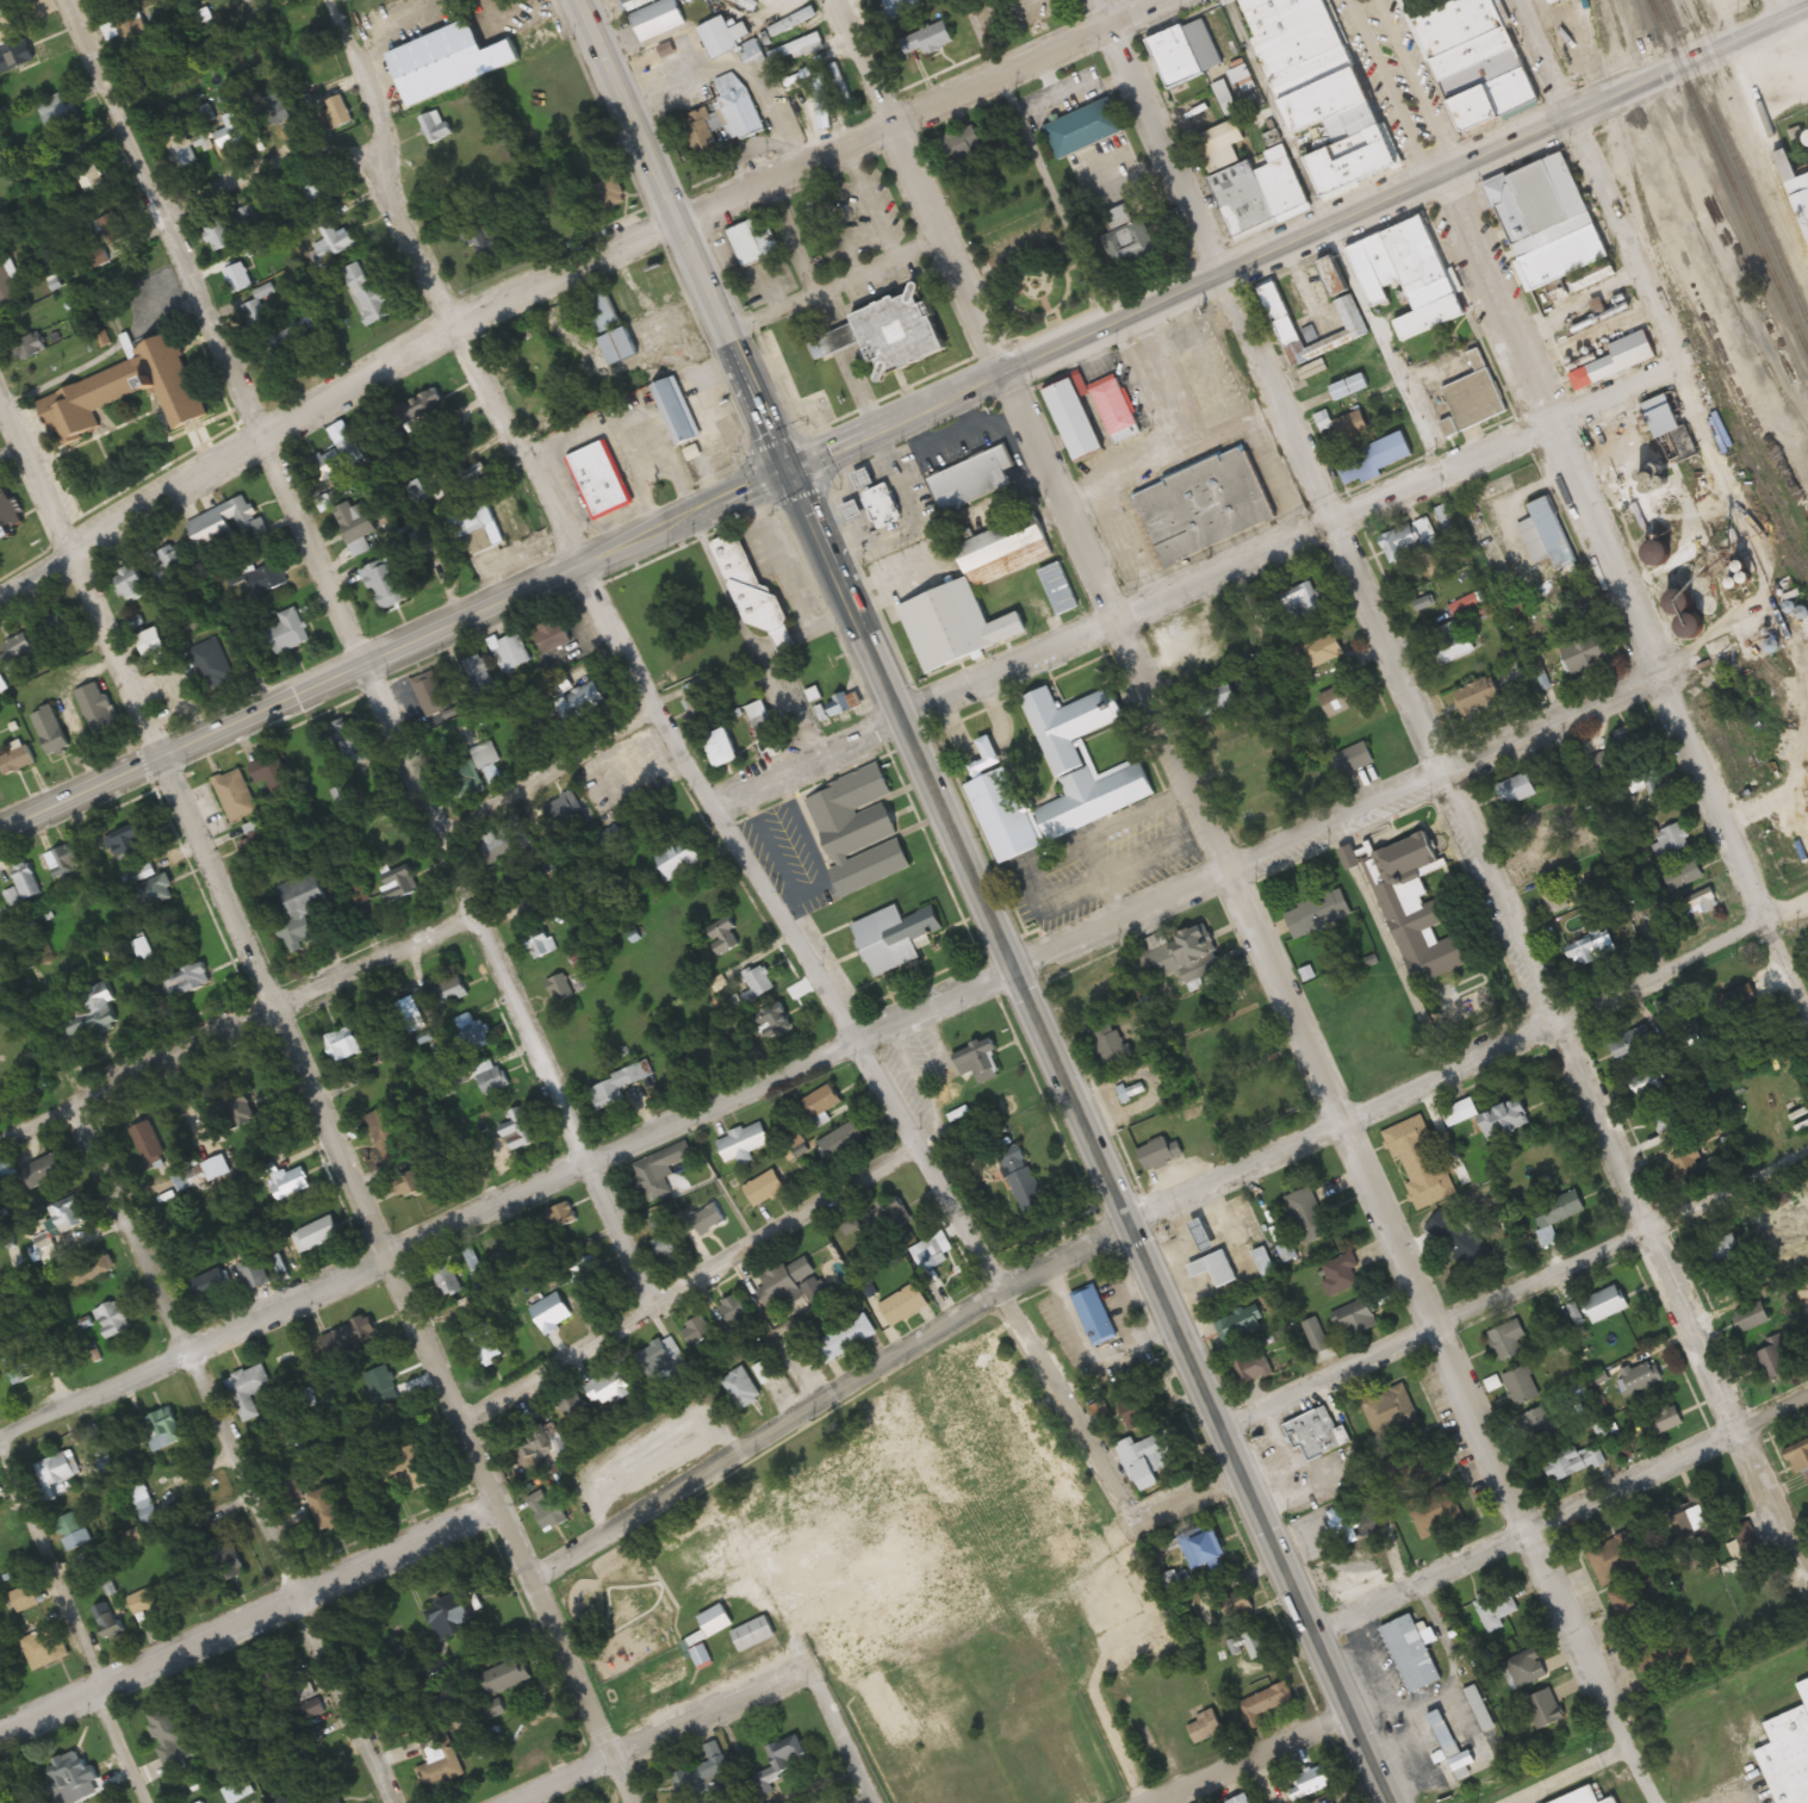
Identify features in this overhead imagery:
building: (903, 7)
road: (1777, 10)
building: (658, 19)
building: (122, 24)
road: (1748, 33)
building: (720, 38)
building: (930, 39)
road: (1795, 46)
building: (464, 57)
road: (1541, 57)
building: (1474, 60)
building: (1198, 66)
road: (1385, 88)
building: (1323, 91)
building: (737, 106)
building: (336, 112)
building: (56, 113)
building: (1087, 128)
building: (232, 131)
road: (1158, 133)
building: (704, 141)
building: (180, 150)
railway: (1734, 161)
road: (265, 162)
building: (1250, 174)
railway: (1728, 175)
road: (913, 185)
building: (1795, 185)
building: (315, 193)
building: (1549, 219)
building: (113, 229)
road: (686, 231)
building: (218, 235)
building: (479, 236)
building: (333, 237)
road: (1616, 237)
building: (1131, 238)
building: (753, 241)
road: (560, 269)
building: (238, 278)
building: (1340, 281)
building: (1433, 284)
road: (429, 288)
building: (7, 291)
building: (366, 296)
building: (255, 310)
building: (1281, 315)
road: (218, 328)
building: (895, 336)
building: (297, 337)
building: (29, 347)
building: (533, 349)
building: (800, 358)
building: (1617, 361)
building: (1350, 387)
building: (125, 392)
building: (1474, 399)
building: (1112, 404)
building: (675, 412)
building: (420, 415)
building: (1074, 418)
building: (1352, 425)
building: (1672, 430)
road: (843, 440)
building: (1375, 458)
building: (336, 459)
traffic signals: (790, 465)
building: (598, 479)
building: (971, 480)
building: (1206, 497)
building: (853, 510)
building: (7, 511)
building: (876, 512)
building: (229, 524)
building: (355, 526)
building: (477, 527)
building: (1545, 534)
building: (1408, 540)
building: (173, 561)
road: (82, 565)
road: (1191, 574)
building: (266, 579)
building: (132, 583)
building: (384, 584)
road: (1618, 598)
building: (1299, 602)
building: (962, 610)
building: (55, 626)
building: (287, 632)
building: (1450, 642)
building: (156, 646)
building: (15, 652)
building: (511, 652)
building: (1323, 654)
building: (211, 664)
building: (479, 674)
building: (429, 694)
building: (1478, 696)
building: (1214, 697)
building: (1342, 698)
building: (584, 701)
building: (97, 709)
building: (757, 710)
building: (50, 732)
building: (1231, 738)
building: (1626, 741)
building: (350, 742)
building: (722, 748)
road: (549, 751)
building: (986, 758)
building: (1349, 759)
building: (17, 760)
building: (1597, 763)
building: (464, 766)
building: (1641, 773)
building: (272, 776)
building: (1057, 779)
building: (1516, 789)
building: (235, 795)
building: (340, 797)
building: (564, 815)
building: (857, 829)
building: (128, 841)
building: (497, 844)
building: (1670, 844)
building: (69, 858)
building: (679, 858)
building: (138, 875)
building: (1683, 876)
building: (26, 879)
building: (400, 888)
building: (1557, 897)
building: (1698, 902)
building: (1415, 906)
building: (303, 909)
building: (1316, 913)
road: (1514, 926)
building: (727, 932)
building: (893, 937)
building: (540, 945)
building: (1590, 950)
building: (1186, 956)
building: (190, 981)
road: (509, 982)
building: (753, 983)
building: (560, 988)
building: (1096, 989)
building: (449, 991)
building: (93, 999)
road: (240, 1020)
building: (773, 1020)
building: (473, 1034)
road: (864, 1036)
building: (1635, 1043)
building: (343, 1044)
building: (1110, 1044)
road: (826, 1052)
building: (978, 1061)
building: (493, 1078)
building: (1648, 1082)
road: (1322, 1087)
building: (613, 1089)
building: (821, 1101)
building: (1460, 1112)
building: (1670, 1117)
building: (520, 1129)
road: (1088, 1134)
building: (387, 1136)
building: (794, 1137)
building: (843, 1140)
building: (744, 1143)
building: (149, 1144)
building: (1158, 1152)
building: (1418, 1162)
building: (1684, 1167)
building: (44, 1170)
building: (659, 1170)
building: (190, 1176)
building: (1023, 1180)
building: (291, 1182)
building: (765, 1188)
road: (1152, 1204)
building: (1558, 1210)
building: (69, 1214)
building: (1306, 1216)
building: (709, 1218)
building: (563, 1223)
building: (317, 1233)
building: (664, 1235)
building: (1453, 1238)
building: (1726, 1249)
building: (13, 1258)
building: (1265, 1263)
building: (1216, 1268)
building: (92, 1269)
building: (478, 1269)
building: (254, 1273)
building: (1341, 1274)
road: (398, 1276)
building: (592, 1277)
building: (448, 1282)
building: (787, 1282)
road: (695, 1283)
building: (212, 1285)
road: (1510, 1286)
building: (1607, 1302)
building: (906, 1304)
building: (737, 1308)
building: (554, 1314)
building: (1094, 1317)
building: (1359, 1318)
building: (114, 1319)
building: (1239, 1324)
building: (698, 1331)
building: (355, 1333)
building: (849, 1338)
building: (1506, 1339)
building: (485, 1344)
building: (1312, 1347)
building: (660, 1357)
building: (1772, 1362)
road: (192, 1364)
building: (1251, 1368)
building: (290, 1369)
building: (768, 1370)
building: (1640, 1376)
building: (609, 1386)
building: (1520, 1386)
building: (744, 1388)
building: (248, 1389)
building: (384, 1389)
building: (573, 1407)
building: (1142, 1409)
building: (1388, 1410)
building: (1663, 1420)
building: (1540, 1428)
building: (162, 1429)
building: (1316, 1431)
building: (535, 1442)
building: (1149, 1456)
building: (1798, 1460)
building: (1573, 1462)
building: (409, 1466)
building: (55, 1469)
road: (1183, 1494)
building: (141, 1496)
building: (912, 1502)
building: (328, 1509)
road: (1558, 1510)
building: (548, 1511)
building: (1434, 1511)
building: (1694, 1515)
building: (72, 1531)
building: (118, 1546)
building: (1203, 1546)
building: (225, 1559)
building: (1615, 1559)
road: (51, 1573)
building: (25, 1596)
building: (156, 1596)
building: (1638, 1603)
building: (1495, 1608)
building: (451, 1615)
building: (1244, 1615)
road: (249, 1616)
building: (110, 1619)
building: (712, 1633)
building: (757, 1634)
building: (1253, 1646)
building: (45, 1648)
building: (1664, 1652)
building: (1411, 1653)
building: (1526, 1667)
building: (440, 1668)
building: (507, 1677)
building: (670, 1677)
building: (203, 1704)
building: (1265, 1704)
building: (1479, 1709)
building: (1543, 1710)
building: (167, 1726)
building: (1205, 1727)
building: (1454, 1728)
road: (656, 1731)
road: (845, 1733)
road: (1117, 1743)
road: (123, 1745)
building: (1064, 1749)
building: (1788, 1754)
building: (788, 1758)
building: (437, 1760)
road: (1254, 1760)
road: (1572, 1773)
building: (708, 1776)
building: (70, 1778)
building: (1310, 1782)
building: (1584, 1797)
building: (1243, 1799)
building: (1335, 1802)

